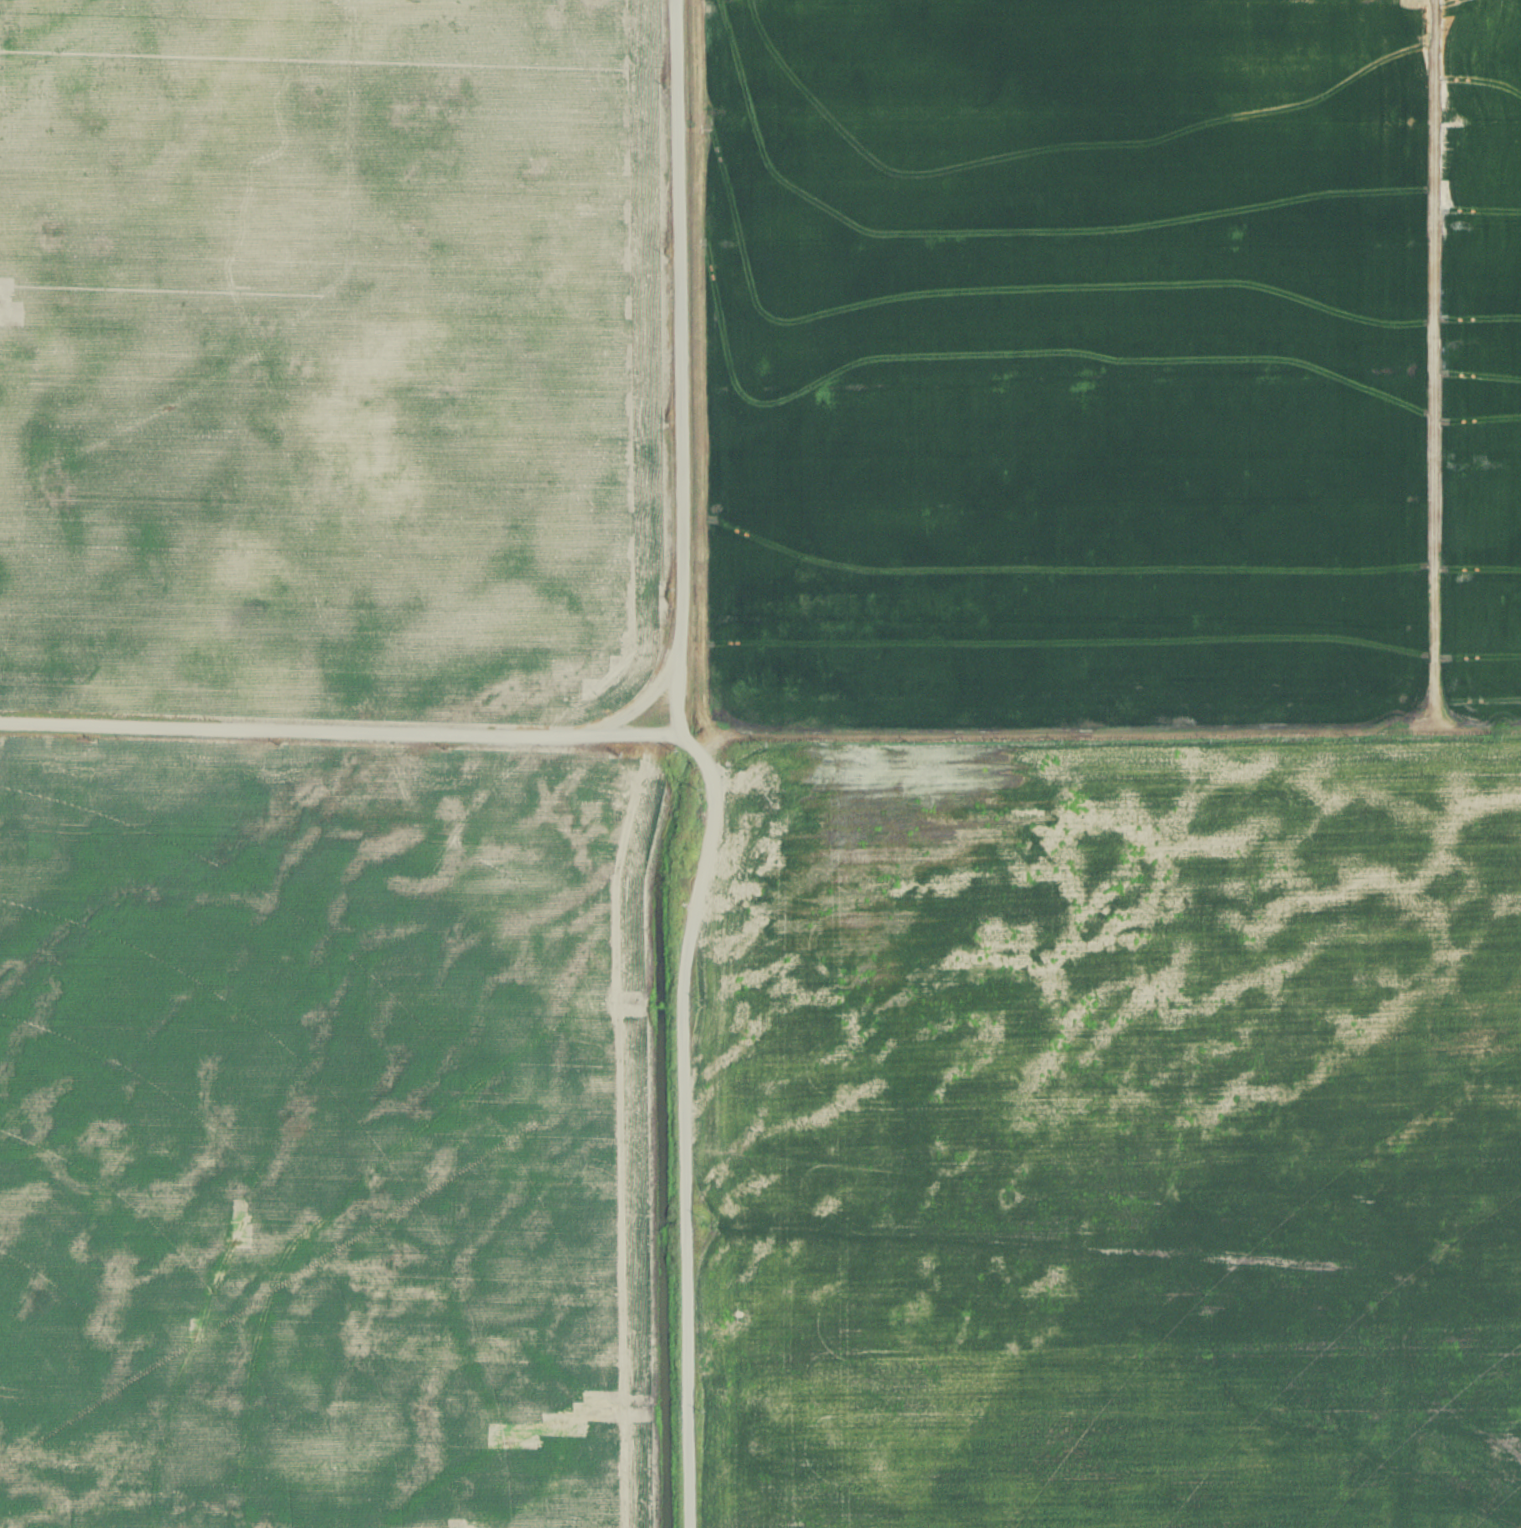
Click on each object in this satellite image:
road: (683, 417)
road: (342, 753)
road: (1108, 840)
road: (697, 1180)

